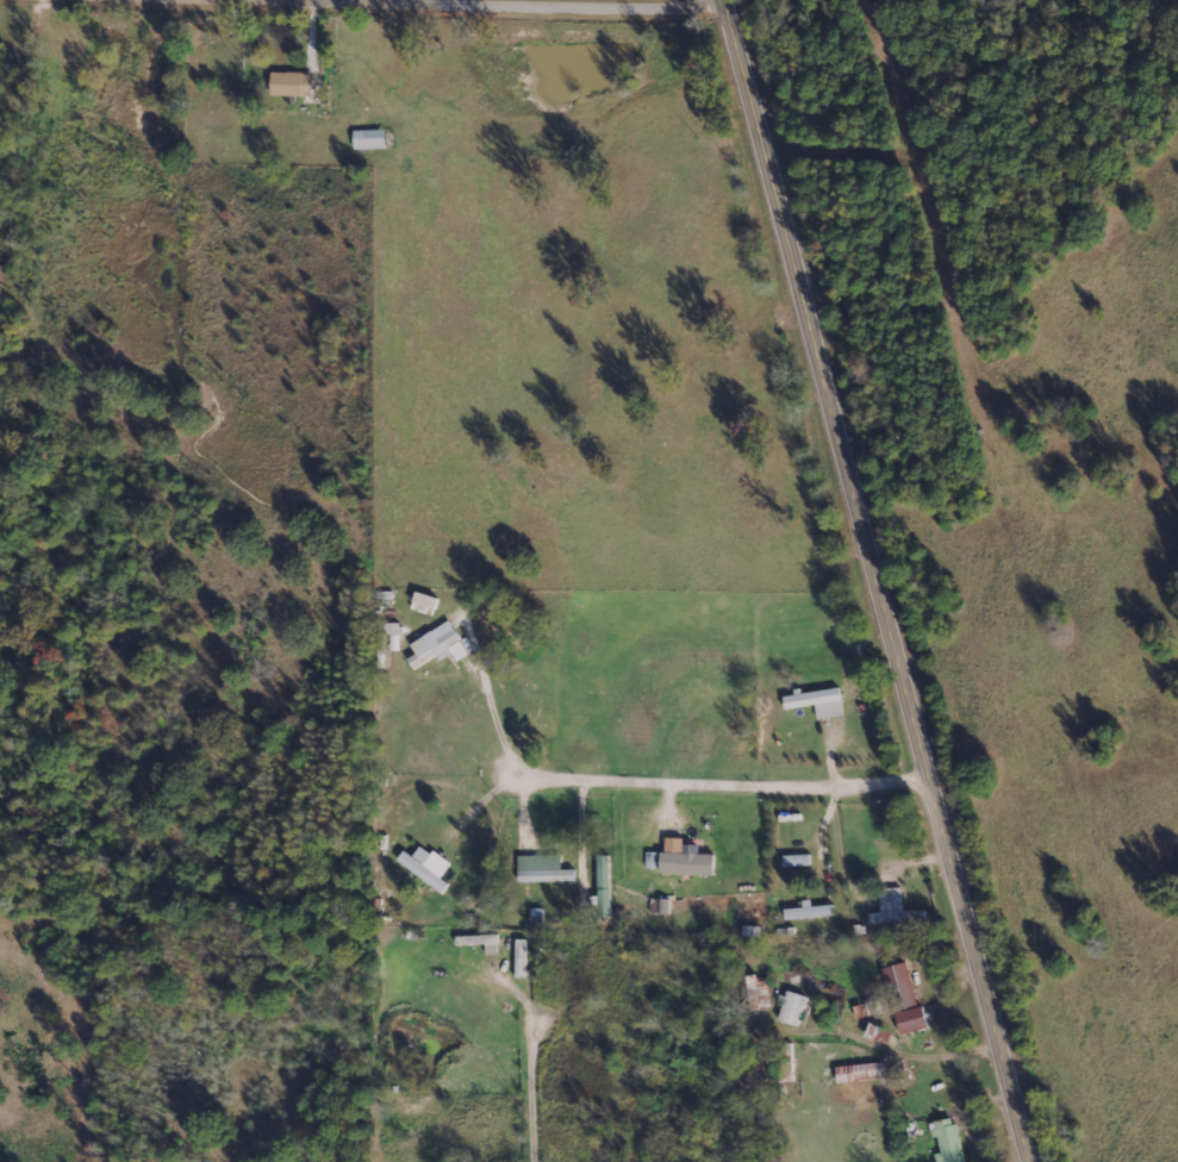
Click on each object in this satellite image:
road: (567, 4)
building: (292, 83)
building: (370, 139)
road: (885, 581)
building: (424, 604)
building: (438, 645)
building: (818, 702)
building: (652, 860)
building: (685, 860)
building: (428, 867)
building: (543, 869)
building: (660, 906)
building: (895, 910)
building: (811, 912)
building: (481, 943)
building: (793, 1008)
building: (860, 1073)
road: (532, 1088)
building: (948, 1142)

